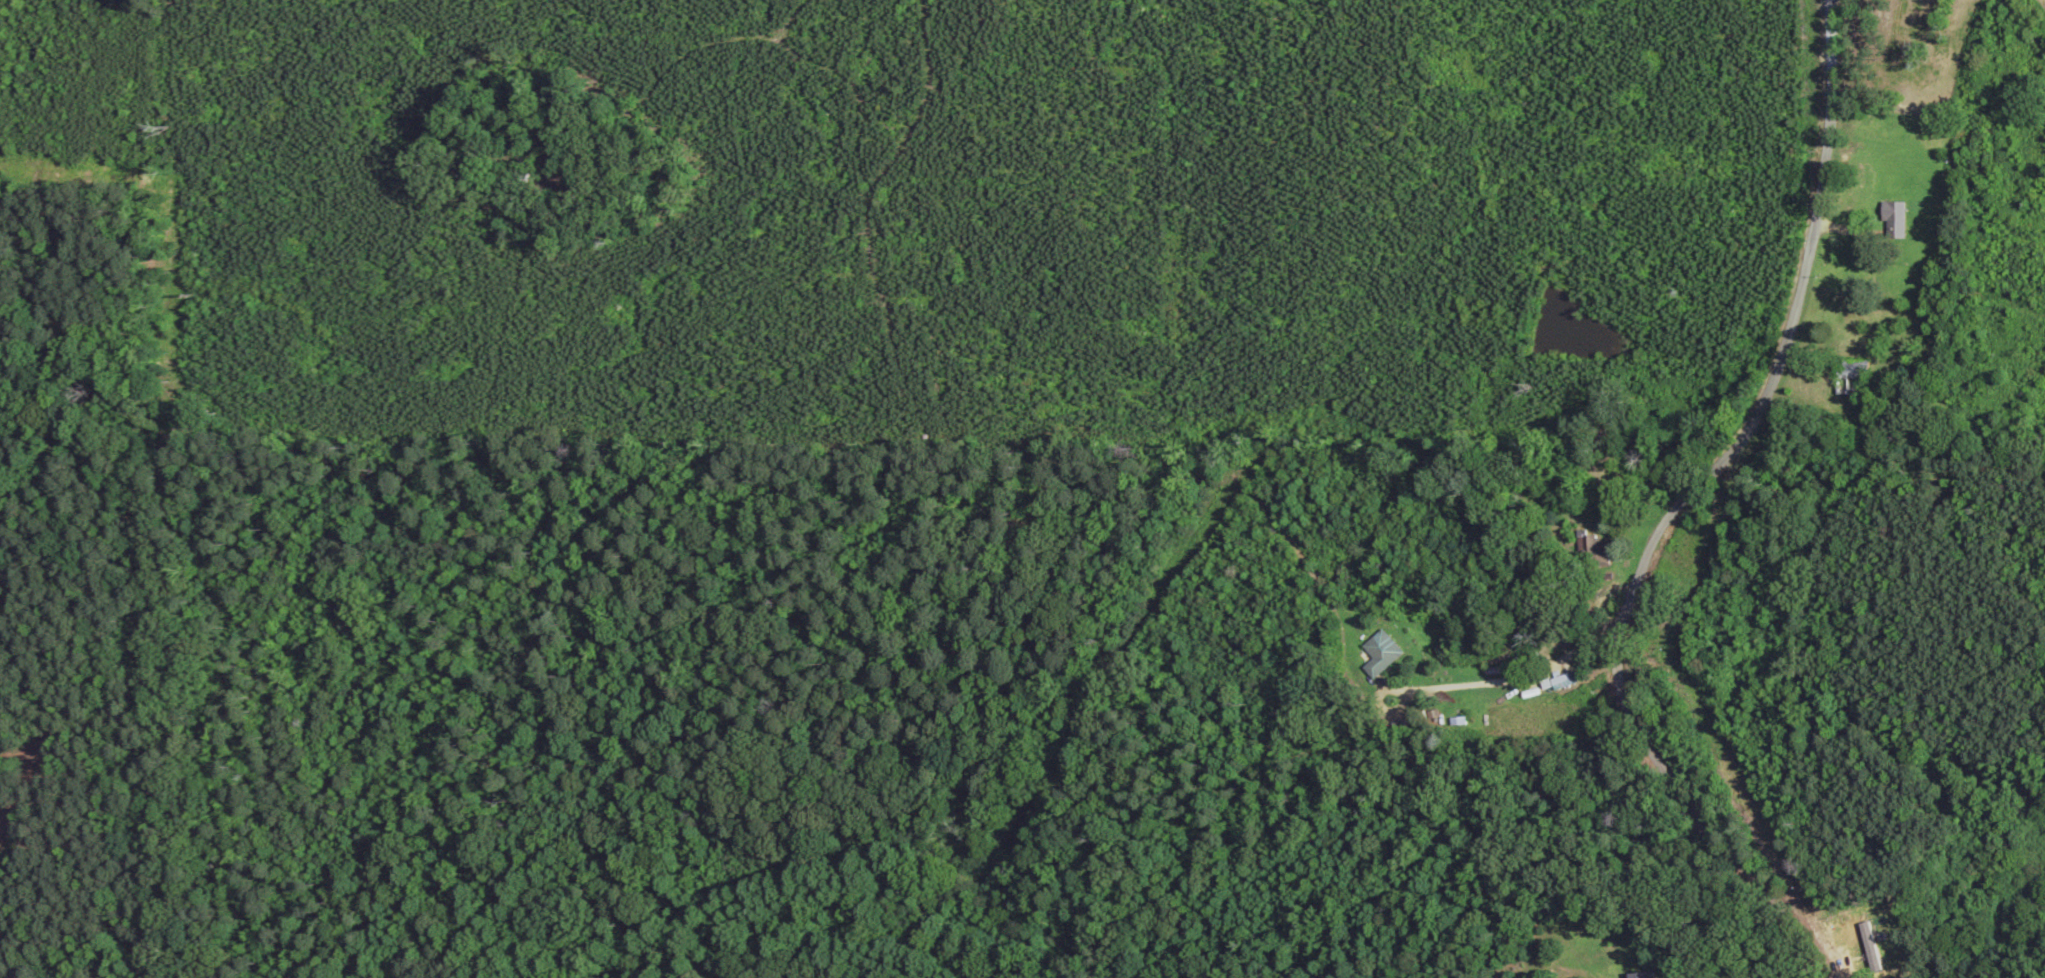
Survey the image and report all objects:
building: (1890, 217)
building: (1848, 376)
road: (1702, 512)
building: (1376, 652)
building: (1553, 683)
building: (1640, 976)

